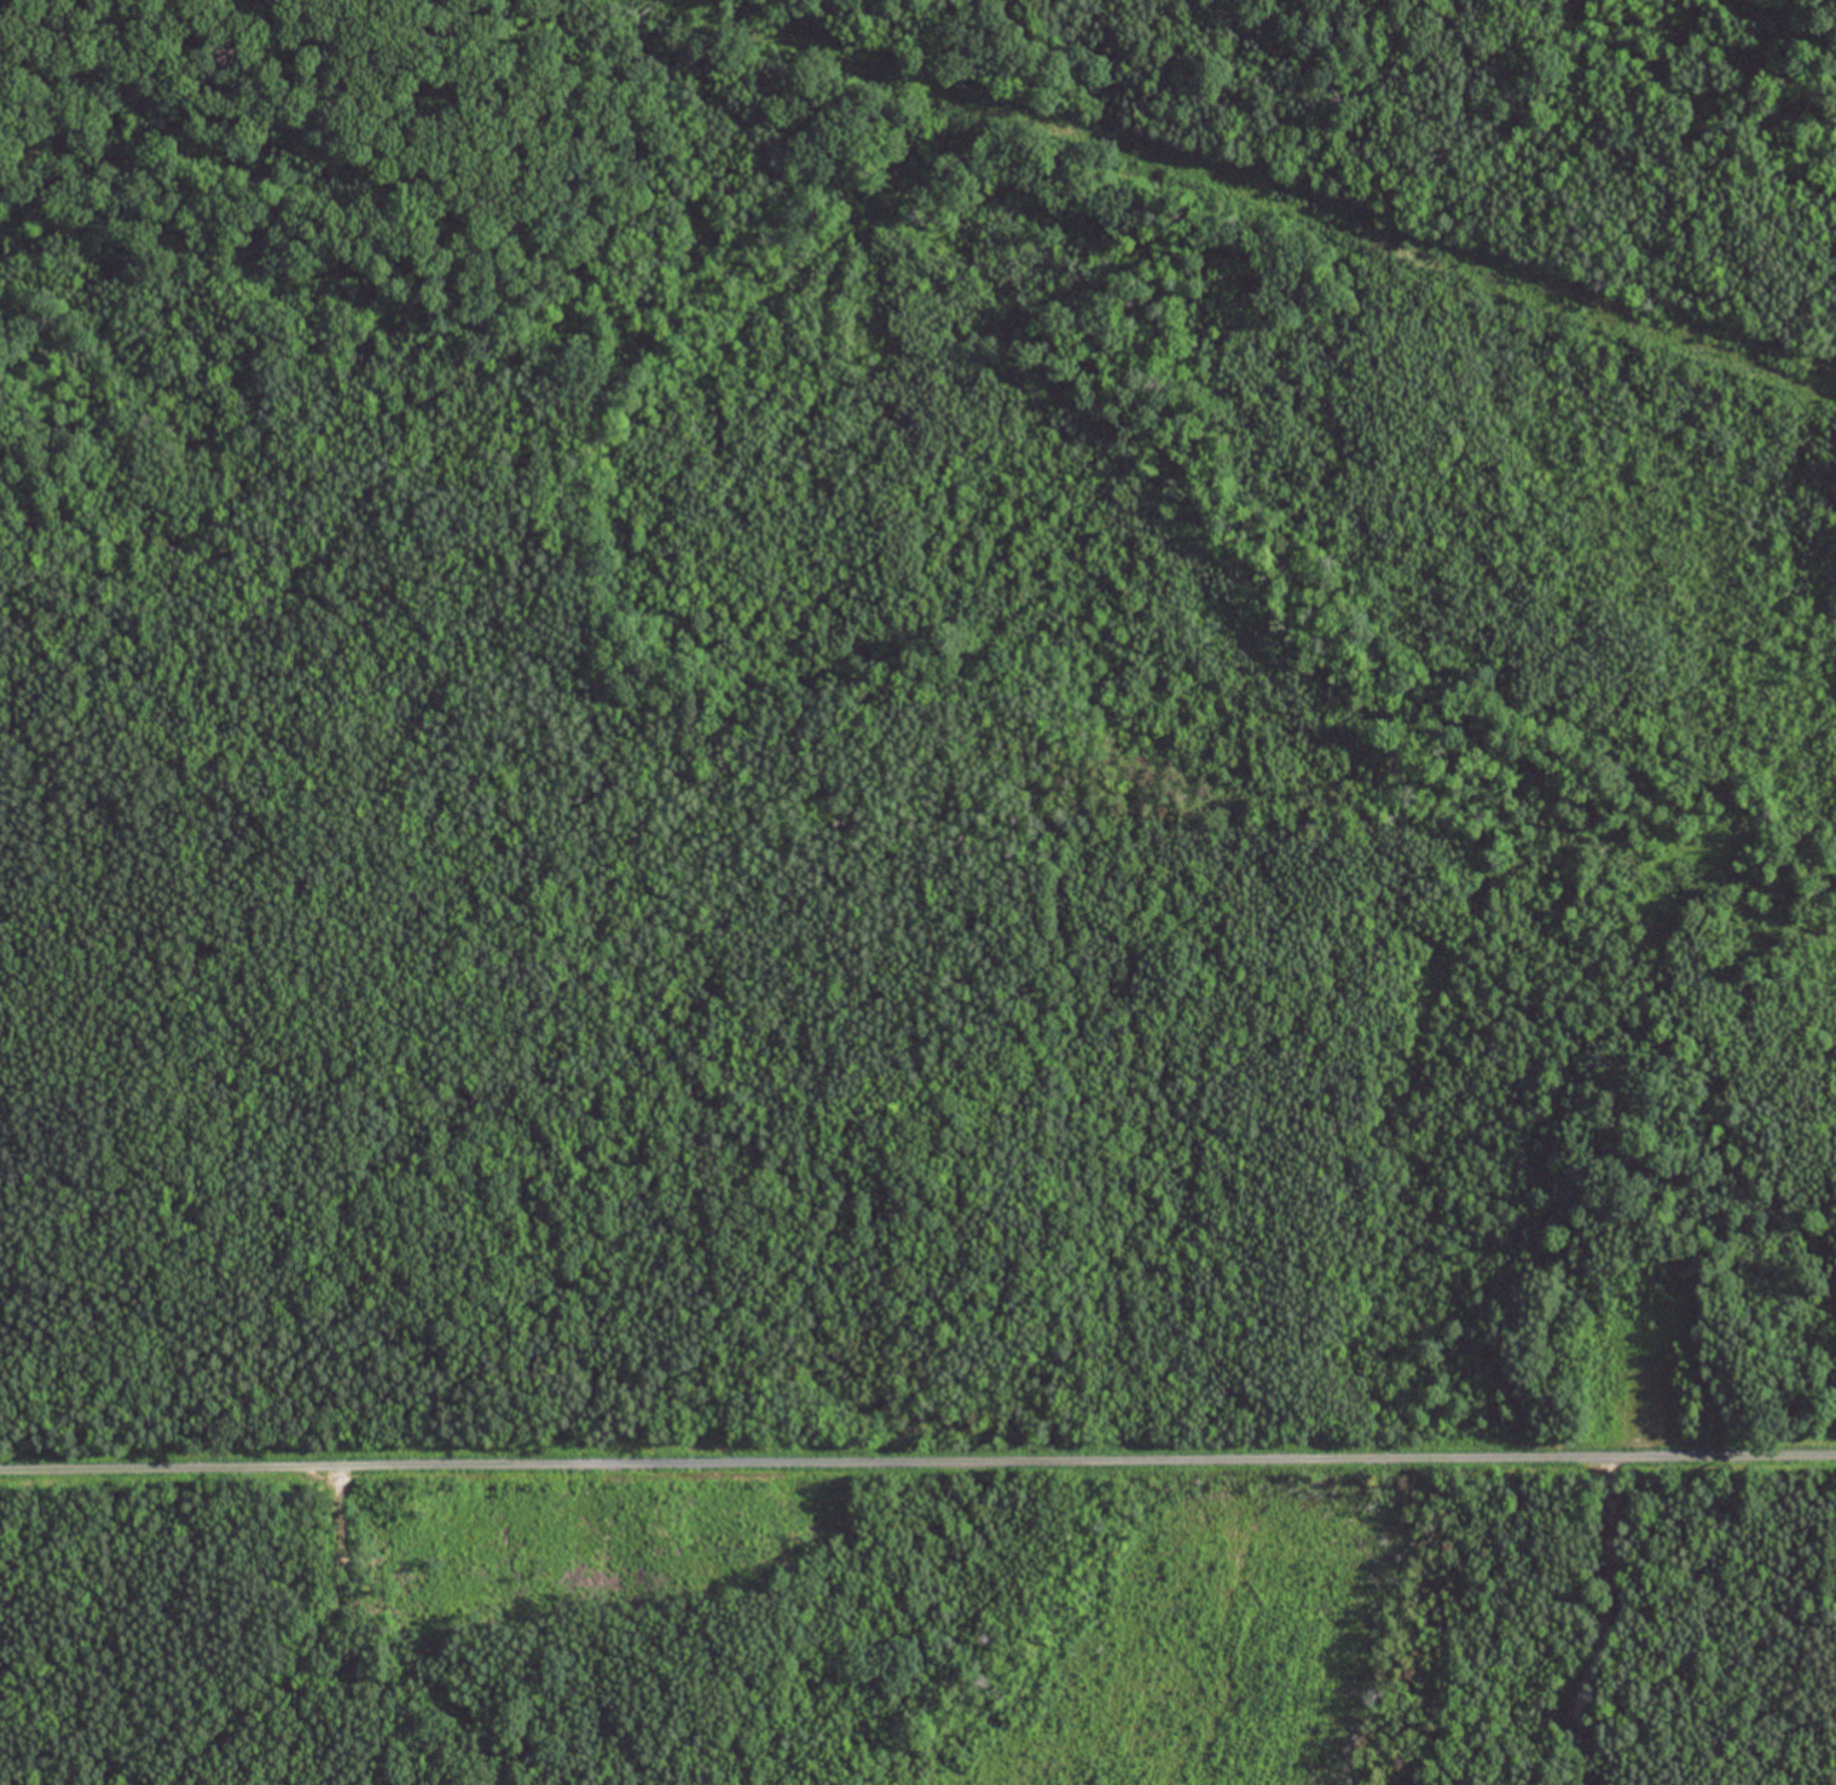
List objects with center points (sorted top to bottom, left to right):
road: (917, 1466)

